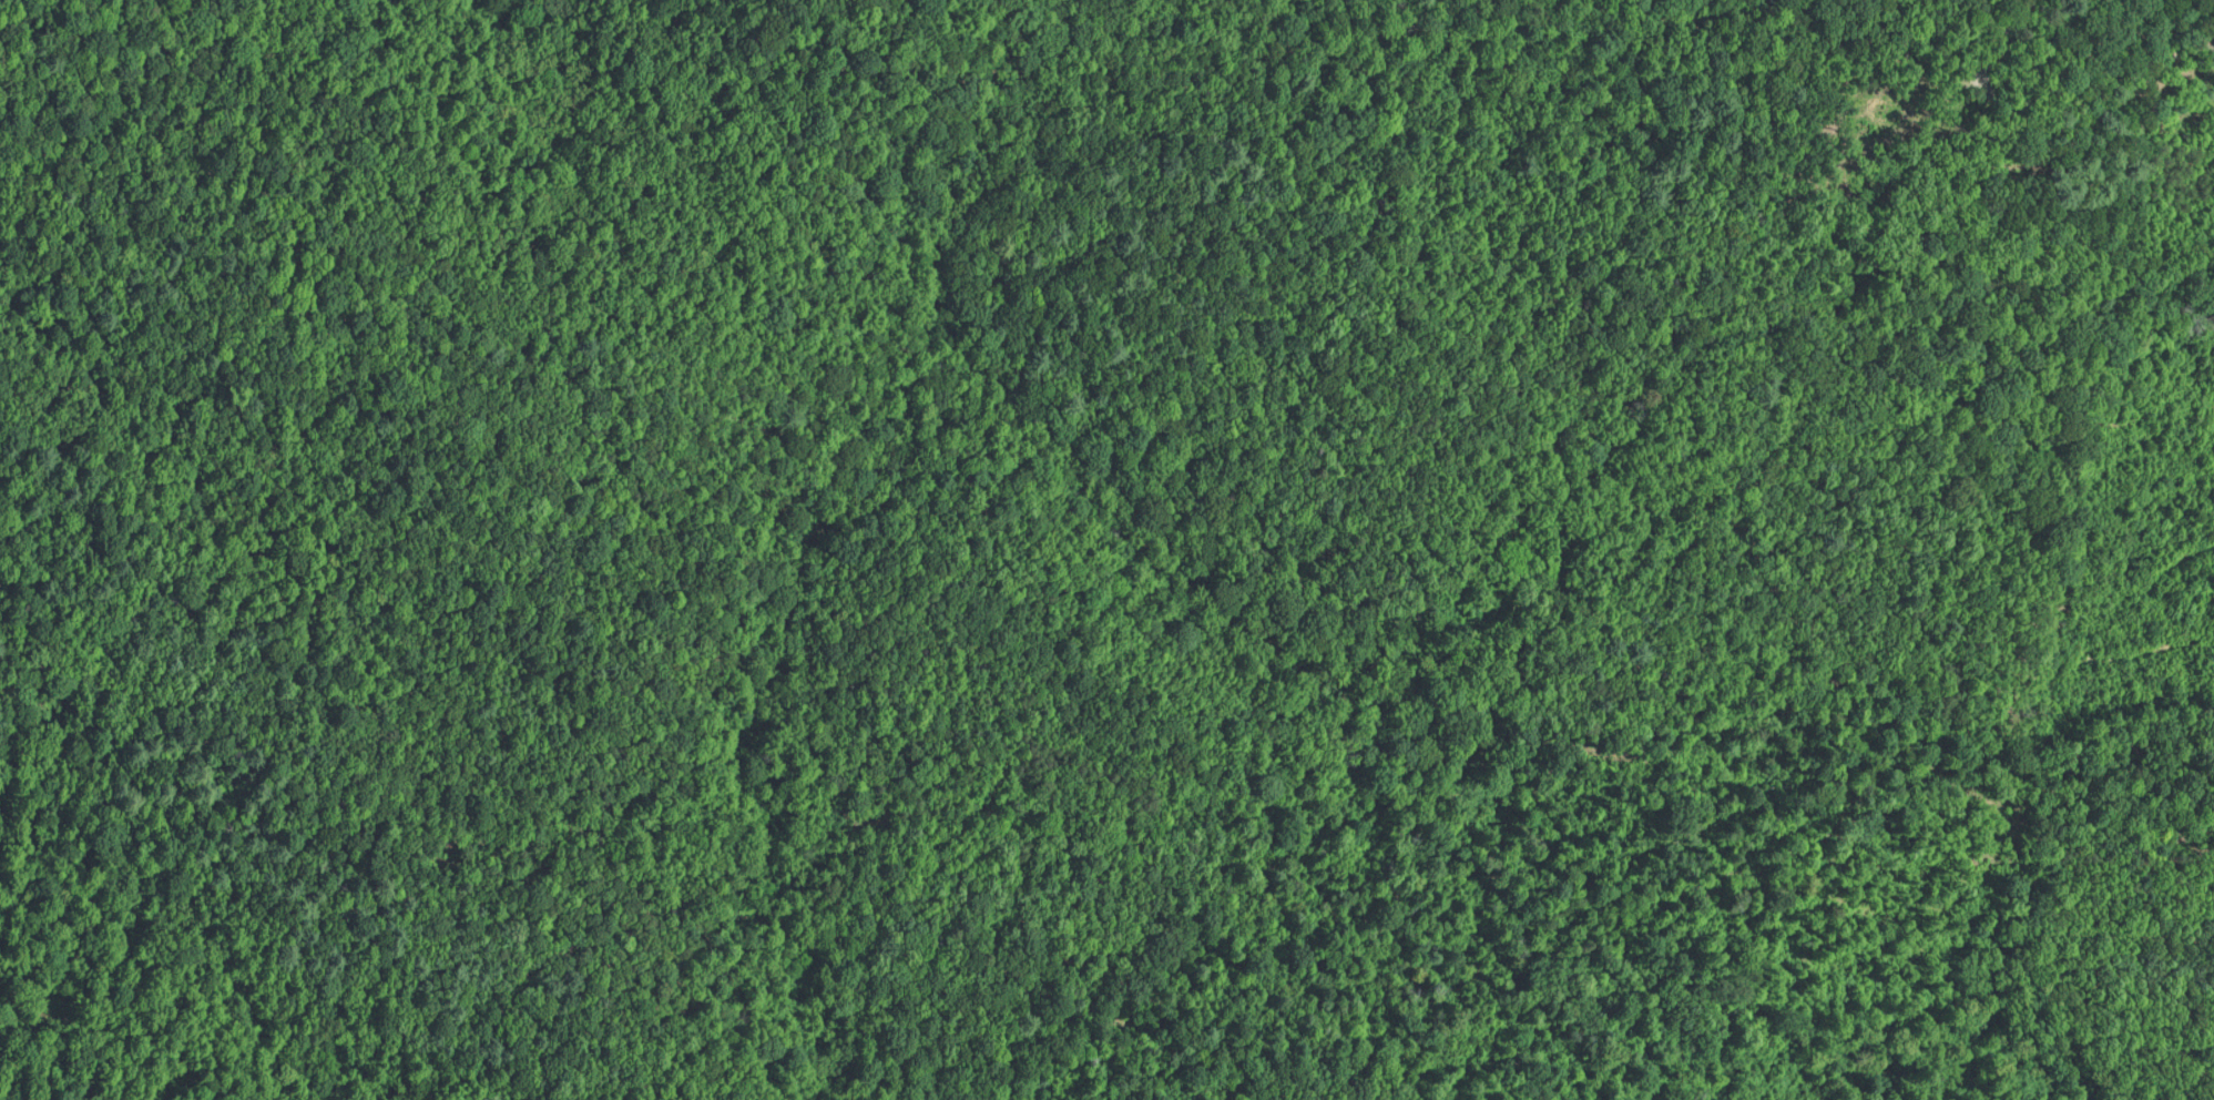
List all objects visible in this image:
road: (2156, 68)
road: (2002, 99)

